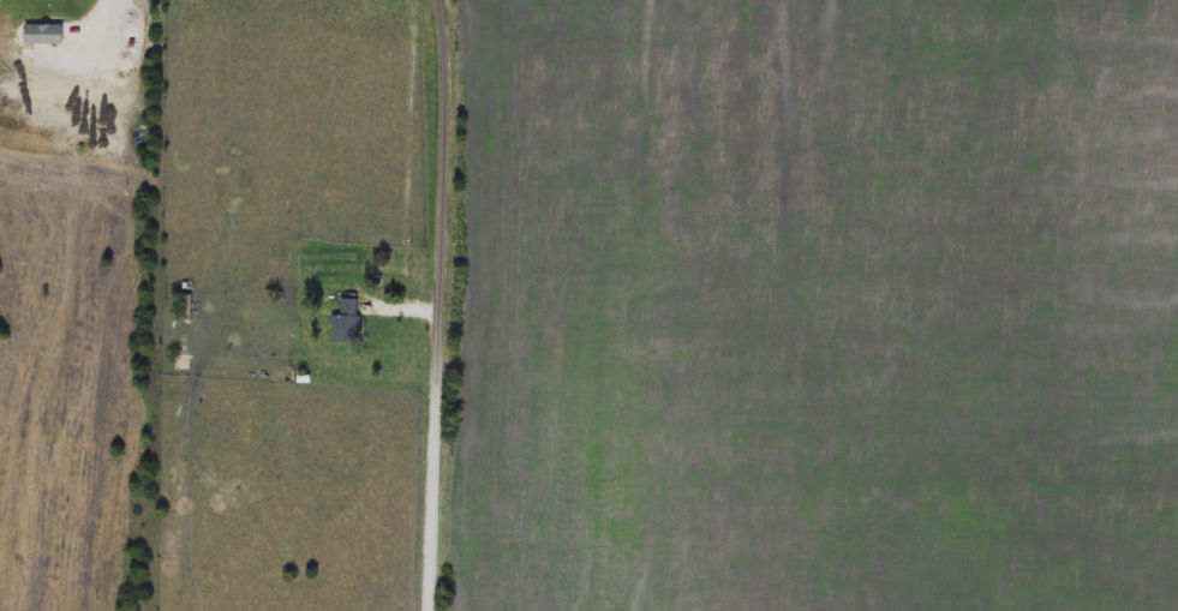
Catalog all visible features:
building: (44, 35)
building: (73, 35)
road: (412, 151)
road: (405, 305)
road: (441, 305)
building: (186, 309)
building: (347, 323)

